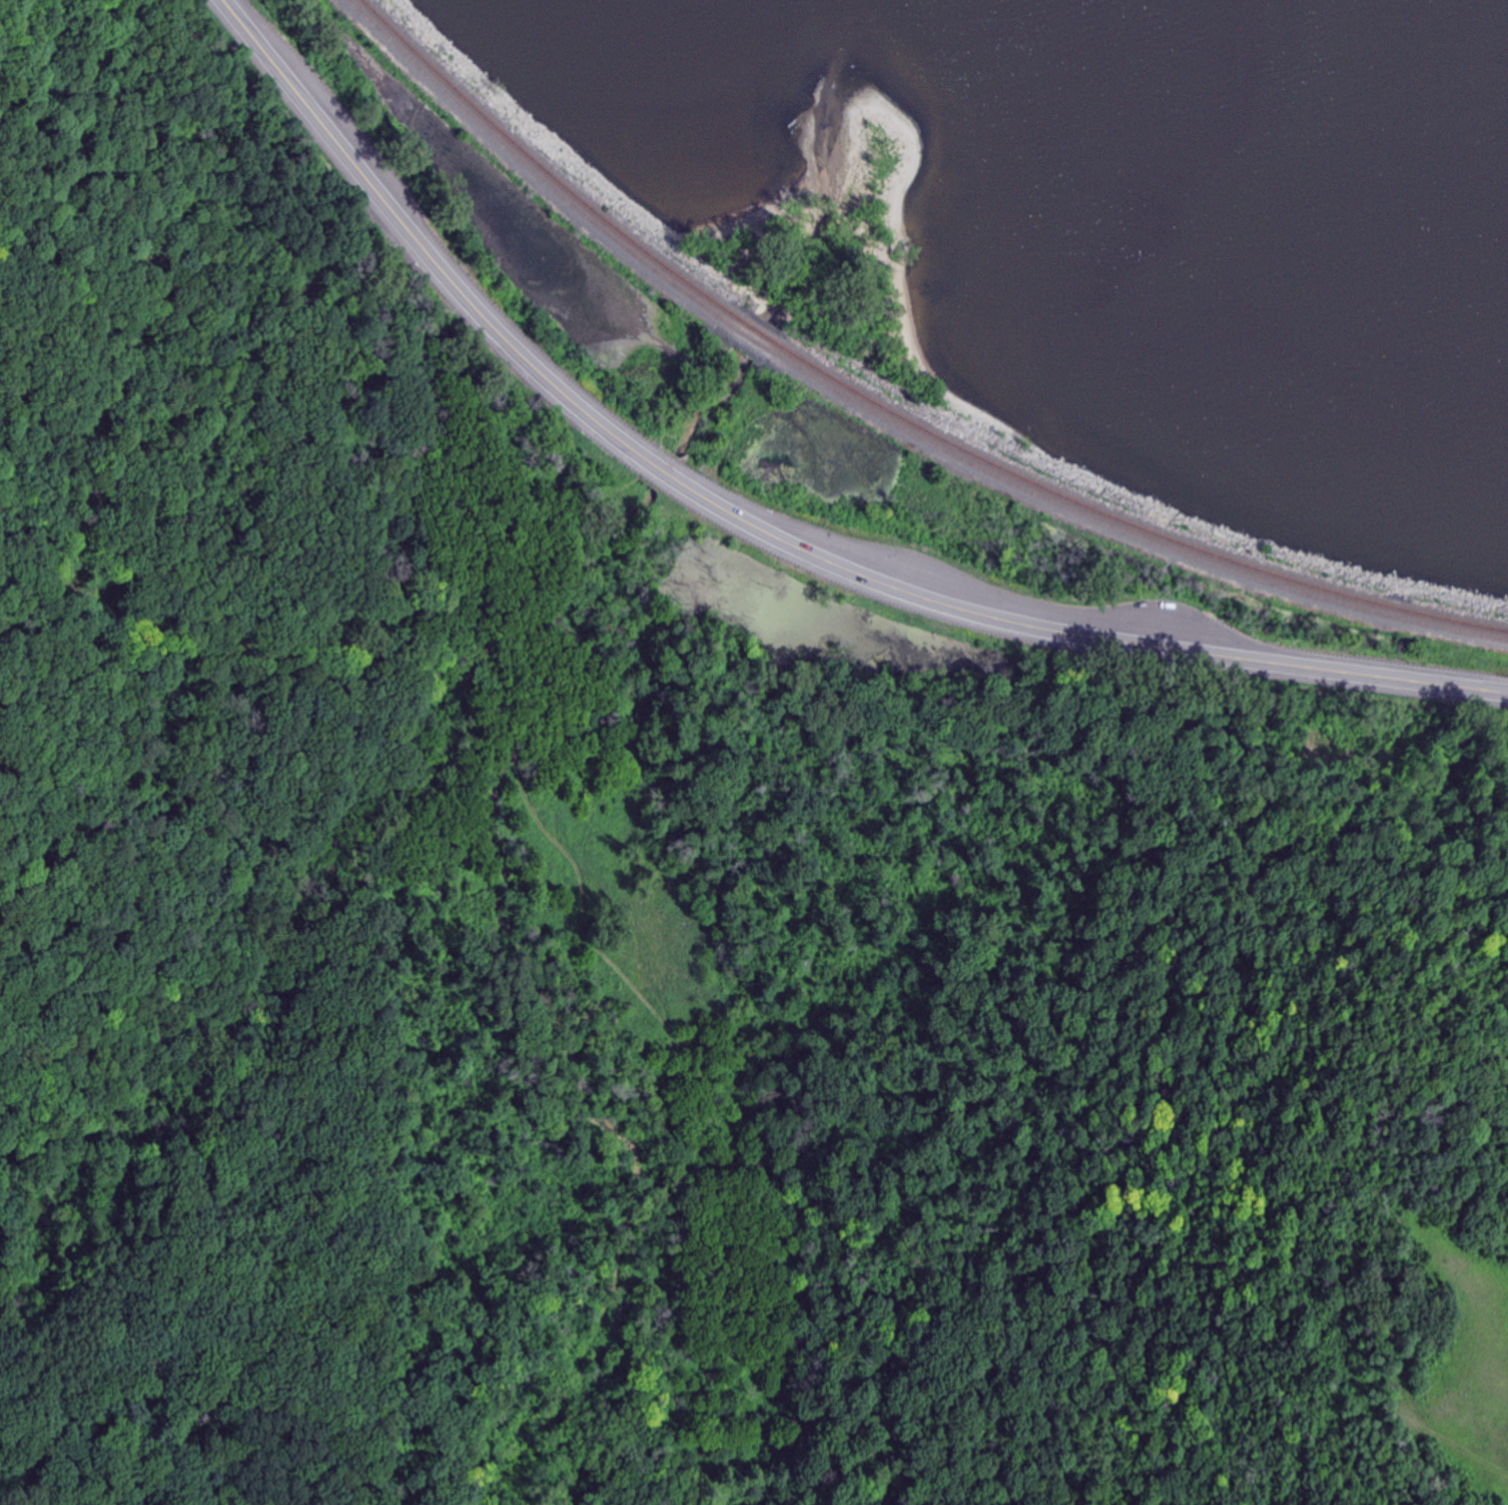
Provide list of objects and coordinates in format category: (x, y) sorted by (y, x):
railway: (885, 408)
railway: (877, 414)
road: (763, 531)
parking lot: (1024, 599)
river: (610, 864)

